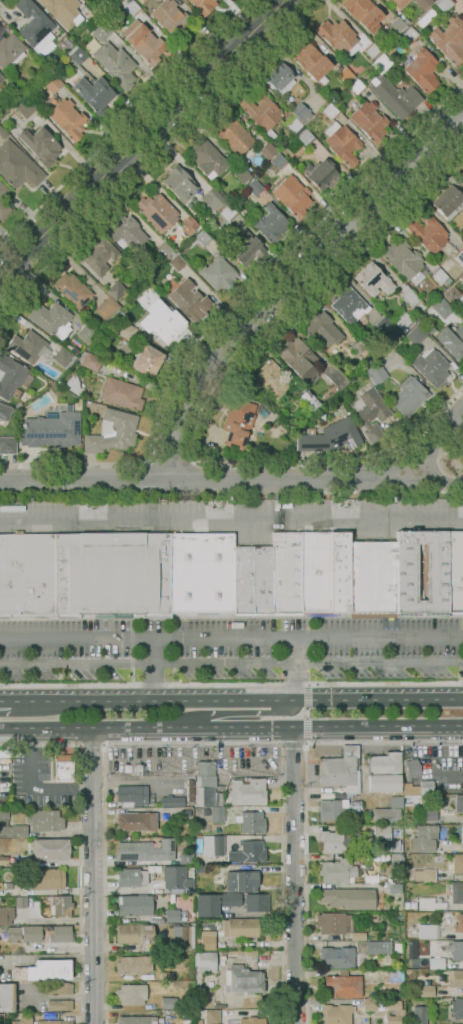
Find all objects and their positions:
building: (388, 0)
building: (399, 3)
building: (423, 3)
building: (444, 4)
building: (203, 6)
building: (132, 8)
building: (62, 11)
building: (363, 13)
building: (170, 17)
building: (424, 20)
building: (405, 21)
building: (34, 25)
building: (397, 25)
building: (102, 32)
building: (410, 35)
building: (338, 37)
building: (449, 40)
building: (144, 42)
building: (371, 50)
building: (10, 51)
building: (75, 57)
building: (310, 61)
building: (116, 65)
building: (355, 69)
building: (422, 71)
building: (345, 75)
building: (1, 78)
building: (280, 78)
building: (51, 83)
building: (357, 87)
building: (392, 90)
building: (92, 92)
building: (25, 108)
building: (297, 111)
building: (330, 111)
building: (0, 113)
building: (262, 114)
building: (67, 119)
building: (369, 121)
road: (125, 123)
building: (295, 126)
building: (252, 132)
building: (3, 133)
building: (233, 135)
building: (306, 138)
road: (140, 140)
building: (342, 143)
building: (40, 145)
building: (267, 151)
road: (155, 157)
building: (208, 159)
building: (277, 164)
building: (17, 166)
building: (319, 174)
building: (242, 175)
building: (460, 177)
building: (179, 184)
building: (254, 188)
building: (292, 196)
building: (3, 197)
building: (214, 200)
building: (448, 202)
building: (157, 212)
building: (228, 213)
building: (270, 223)
building: (188, 225)
building: (127, 233)
building: (428, 234)
building: (198, 239)
building: (177, 248)
building: (243, 248)
building: (164, 249)
building: (99, 255)
building: (459, 257)
building: (404, 261)
building: (177, 263)
building: (445, 265)
building: (218, 273)
building: (440, 276)
building: (461, 277)
building: (372, 279)
road: (289, 282)
building: (73, 290)
building: (116, 290)
building: (451, 295)
building: (144, 296)
building: (408, 296)
building: (188, 301)
building: (460, 303)
building: (349, 306)
building: (442, 307)
building: (107, 308)
building: (134, 311)
road: (230, 311)
building: (51, 320)
building: (160, 320)
building: (402, 320)
building: (386, 326)
building: (125, 330)
building: (321, 330)
building: (403, 330)
building: (86, 333)
building: (415, 335)
building: (452, 341)
building: (27, 347)
building: (357, 347)
building: (62, 357)
building: (91, 360)
building: (146, 360)
building: (299, 360)
building: (431, 367)
building: (375, 372)
building: (11, 376)
building: (334, 376)
building: (270, 379)
building: (72, 384)
building: (122, 394)
road: (206, 396)
building: (408, 397)
building: (307, 399)
building: (337, 400)
building: (5, 412)
building: (370, 412)
building: (237, 421)
building: (51, 431)
building: (112, 432)
building: (330, 437)
road: (419, 444)
building: (8, 445)
road: (450, 446)
road: (422, 448)
road: (172, 454)
road: (432, 475)
road: (188, 476)
road: (355, 477)
road: (150, 478)
road: (231, 481)
road: (231, 493)
road: (231, 520)
building: (227, 575)
road: (231, 638)
road: (231, 663)
road: (153, 667)
road: (294, 667)
road: (231, 684)
road: (307, 685)
road: (236, 696)
road: (5, 698)
road: (235, 714)
road: (307, 714)
road: (231, 731)
road: (383, 743)
road: (192, 744)
road: (281, 744)
road: (293, 744)
road: (91, 745)
building: (64, 767)
building: (412, 767)
building: (341, 770)
building: (139, 771)
building: (384, 772)
building: (205, 774)
building: (426, 788)
building: (411, 789)
building: (247, 792)
building: (132, 794)
building: (207, 796)
building: (356, 797)
building: (361, 798)
building: (172, 801)
building: (459, 804)
building: (335, 810)
building: (389, 811)
building: (216, 814)
building: (428, 814)
building: (163, 817)
building: (362, 819)
building: (45, 820)
building: (136, 821)
building: (188, 822)
building: (252, 822)
building: (11, 827)
building: (462, 834)
building: (384, 837)
building: (423, 839)
building: (335, 841)
building: (216, 843)
road: (79, 845)
building: (50, 848)
building: (380, 849)
building: (145, 850)
building: (247, 852)
building: (186, 858)
building: (4, 860)
building: (396, 860)
building: (110, 862)
building: (457, 863)
building: (199, 869)
building: (338, 870)
building: (429, 875)
building: (134, 876)
road: (91, 877)
road: (293, 877)
building: (175, 878)
building: (398, 878)
building: (48, 879)
building: (241, 880)
road: (306, 882)
building: (9, 886)
building: (394, 888)
building: (456, 893)
building: (349, 897)
building: (164, 899)
building: (230, 899)
building: (21, 901)
building: (255, 902)
building: (429, 904)
building: (61, 905)
building: (135, 905)
building: (406, 905)
building: (206, 907)
building: (6, 915)
building: (176, 915)
building: (372, 917)
building: (333, 923)
building: (458, 924)
building: (240, 928)
building: (427, 931)
building: (32, 932)
building: (13, 933)
building: (61, 933)
building: (134, 933)
building: (387, 934)
building: (181, 936)
building: (358, 936)
building: (208, 940)
building: (373, 947)
building: (398, 947)
building: (412, 948)
building: (455, 950)
building: (337, 957)
building: (206, 961)
building: (133, 964)
building: (44, 969)
building: (395, 975)
building: (166, 976)
building: (441, 976)
building: (455, 977)
building: (243, 980)
building: (370, 980)
building: (342, 985)
building: (59, 988)
building: (420, 989)
building: (398, 990)
building: (131, 994)
building: (7, 998)
building: (169, 1002)
building: (199, 1004)
building: (59, 1005)
building: (190, 1005)
building: (370, 1005)
building: (219, 1006)
building: (179, 1007)
building: (457, 1007)
building: (177, 1011)
building: (399, 1012)
building: (337, 1013)
building: (420, 1015)
building: (212, 1017)
building: (136, 1020)
building: (251, 1020)
building: (37, 1021)
building: (199, 1021)
building: (188, 1022)

